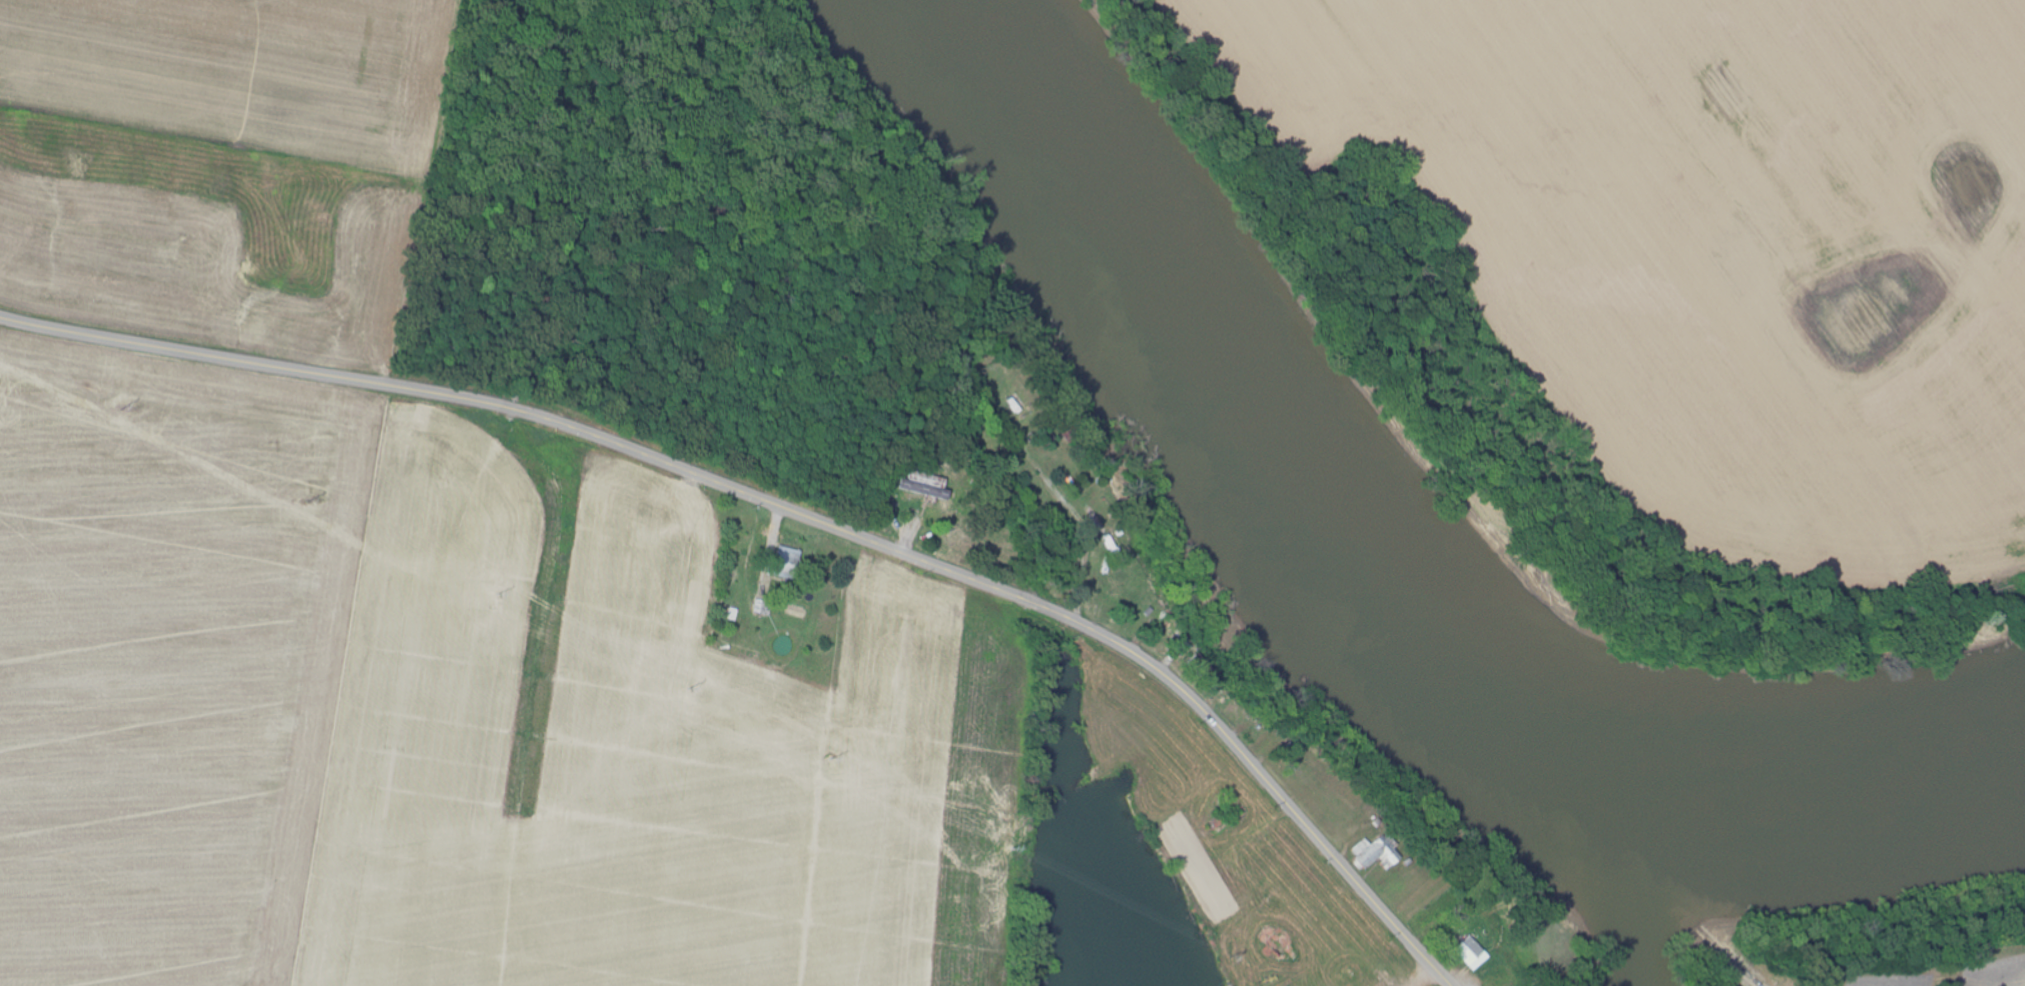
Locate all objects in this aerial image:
road: (794, 518)
building: (789, 564)
river: (1371, 565)
building: (1379, 853)
river: (1622, 867)
building: (1473, 953)

